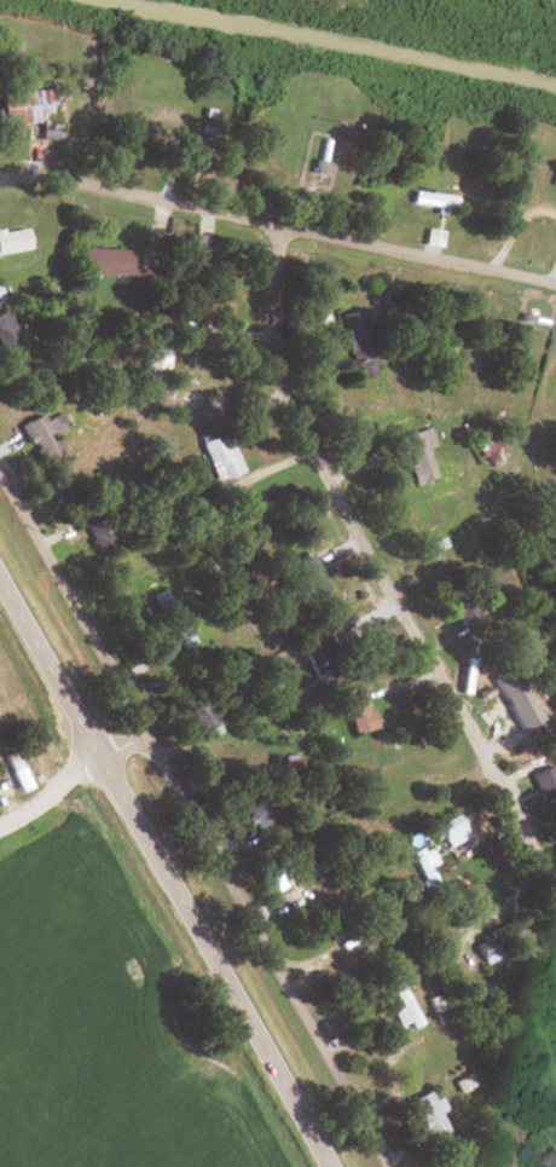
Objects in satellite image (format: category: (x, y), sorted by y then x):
building: (30, 112)
building: (382, 157)
building: (181, 160)
building: (427, 202)
road: (278, 226)
building: (427, 239)
building: (11, 241)
building: (102, 262)
building: (207, 279)
building: (6, 337)
building: (355, 345)
building: (151, 360)
building: (189, 389)
building: (39, 435)
building: (413, 455)
building: (216, 456)
building: (87, 526)
road: (367, 565)
building: (302, 573)
building: (461, 608)
building: (168, 620)
building: (325, 674)
building: (353, 712)
building: (199, 718)
building: (511, 720)
road: (117, 747)
building: (12, 770)
building: (545, 787)
road: (48, 788)
building: (256, 811)
road: (190, 827)
building: (447, 831)
building: (279, 871)
road: (162, 878)
building: (493, 942)
building: (440, 965)
building: (399, 1007)
building: (422, 1116)

